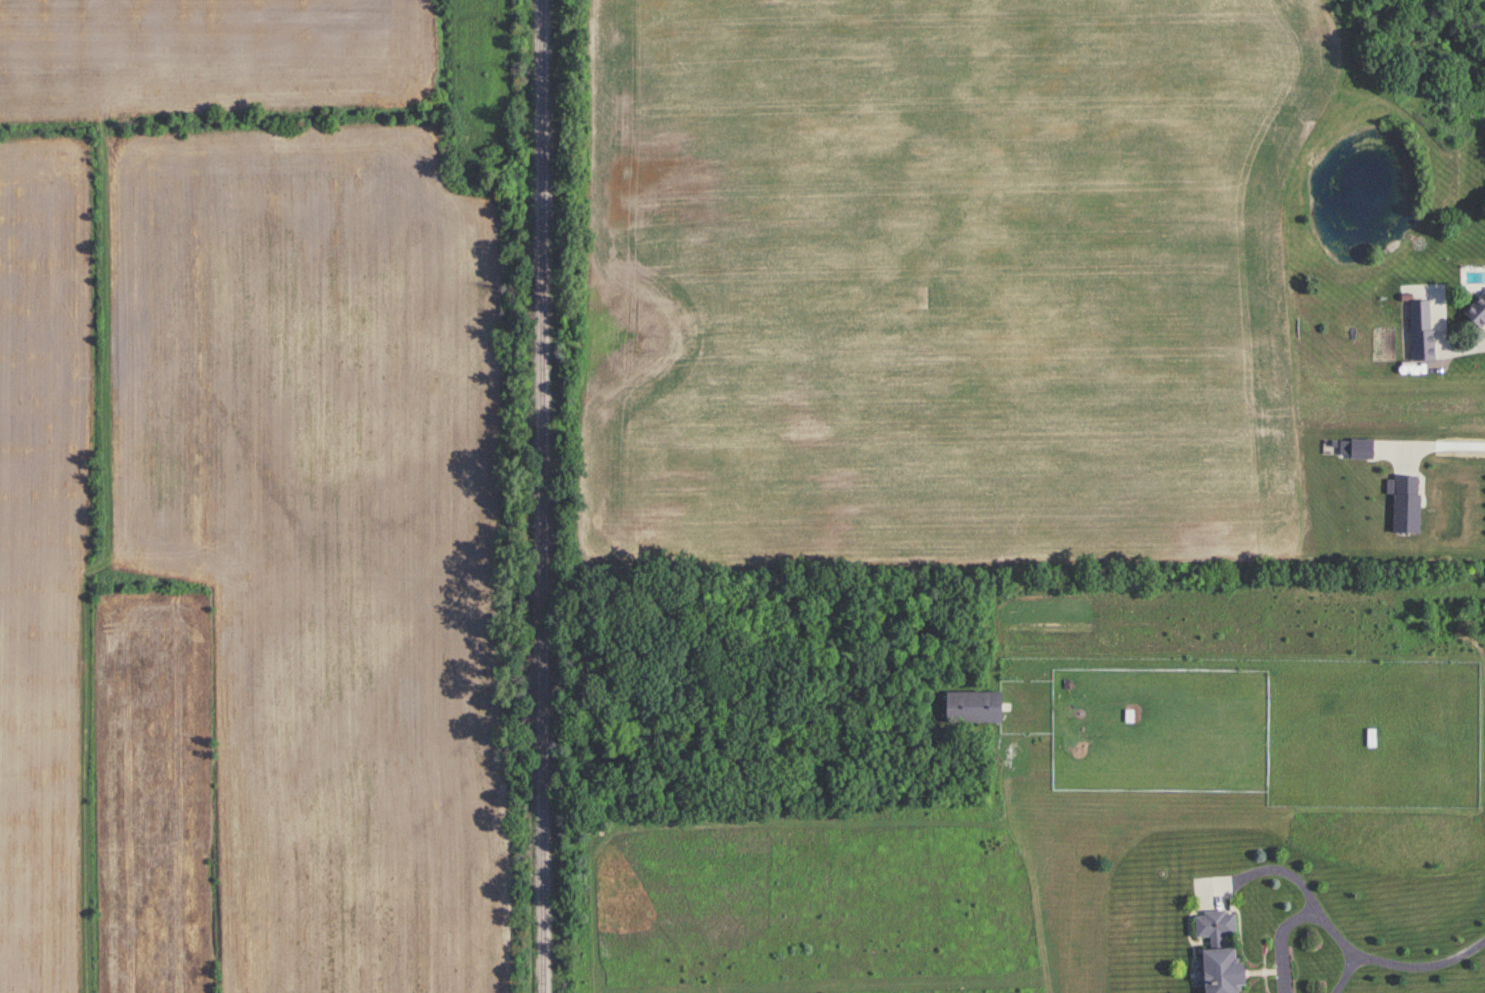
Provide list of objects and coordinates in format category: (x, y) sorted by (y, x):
building: (1476, 308)
road: (1484, 319)
building: (1419, 332)
road: (1446, 441)
railway: (541, 496)
building: (968, 709)
road: (1287, 917)
building: (1214, 953)
road: (1420, 962)
road: (1336, 972)

